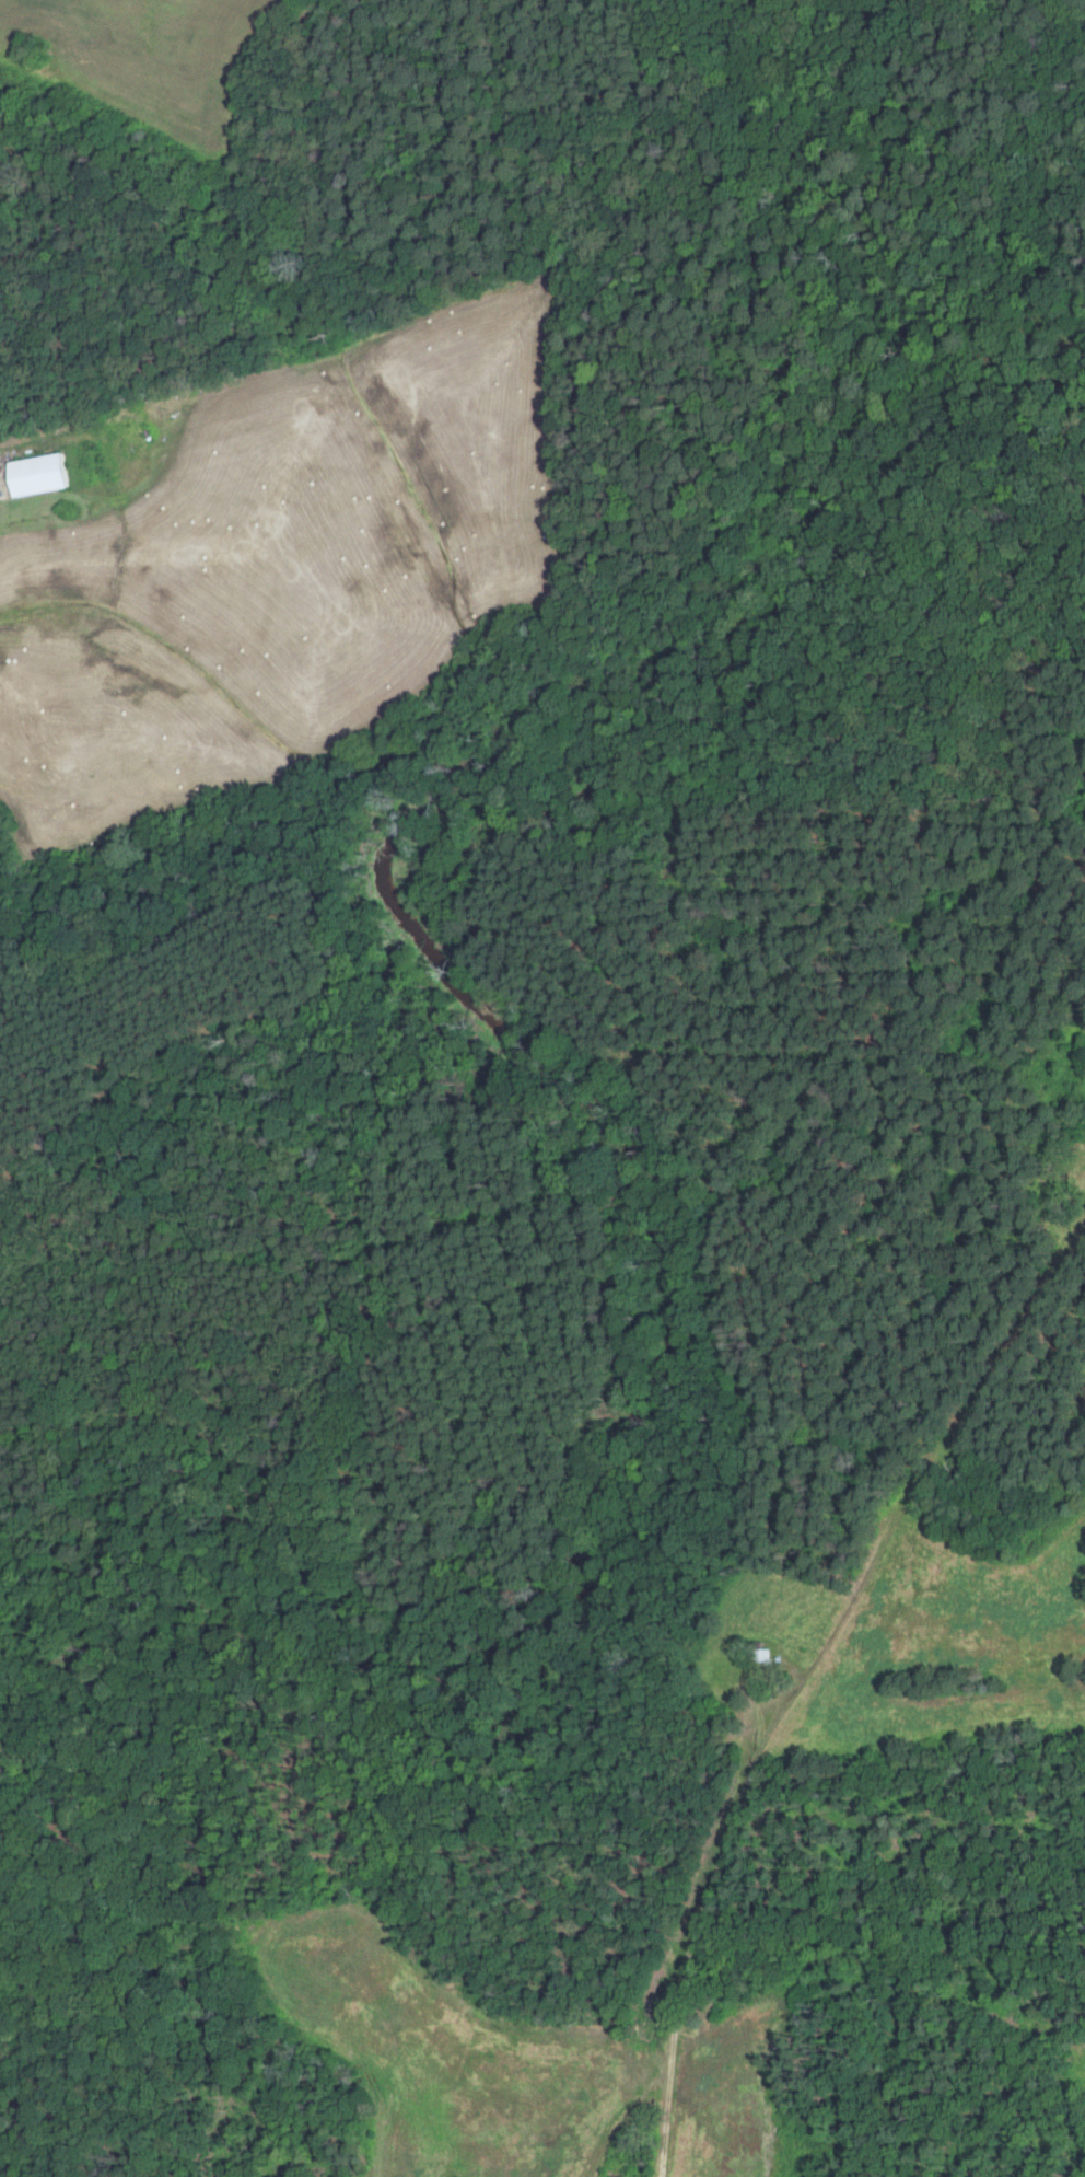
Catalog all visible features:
building: (33, 476)
road: (813, 1684)

